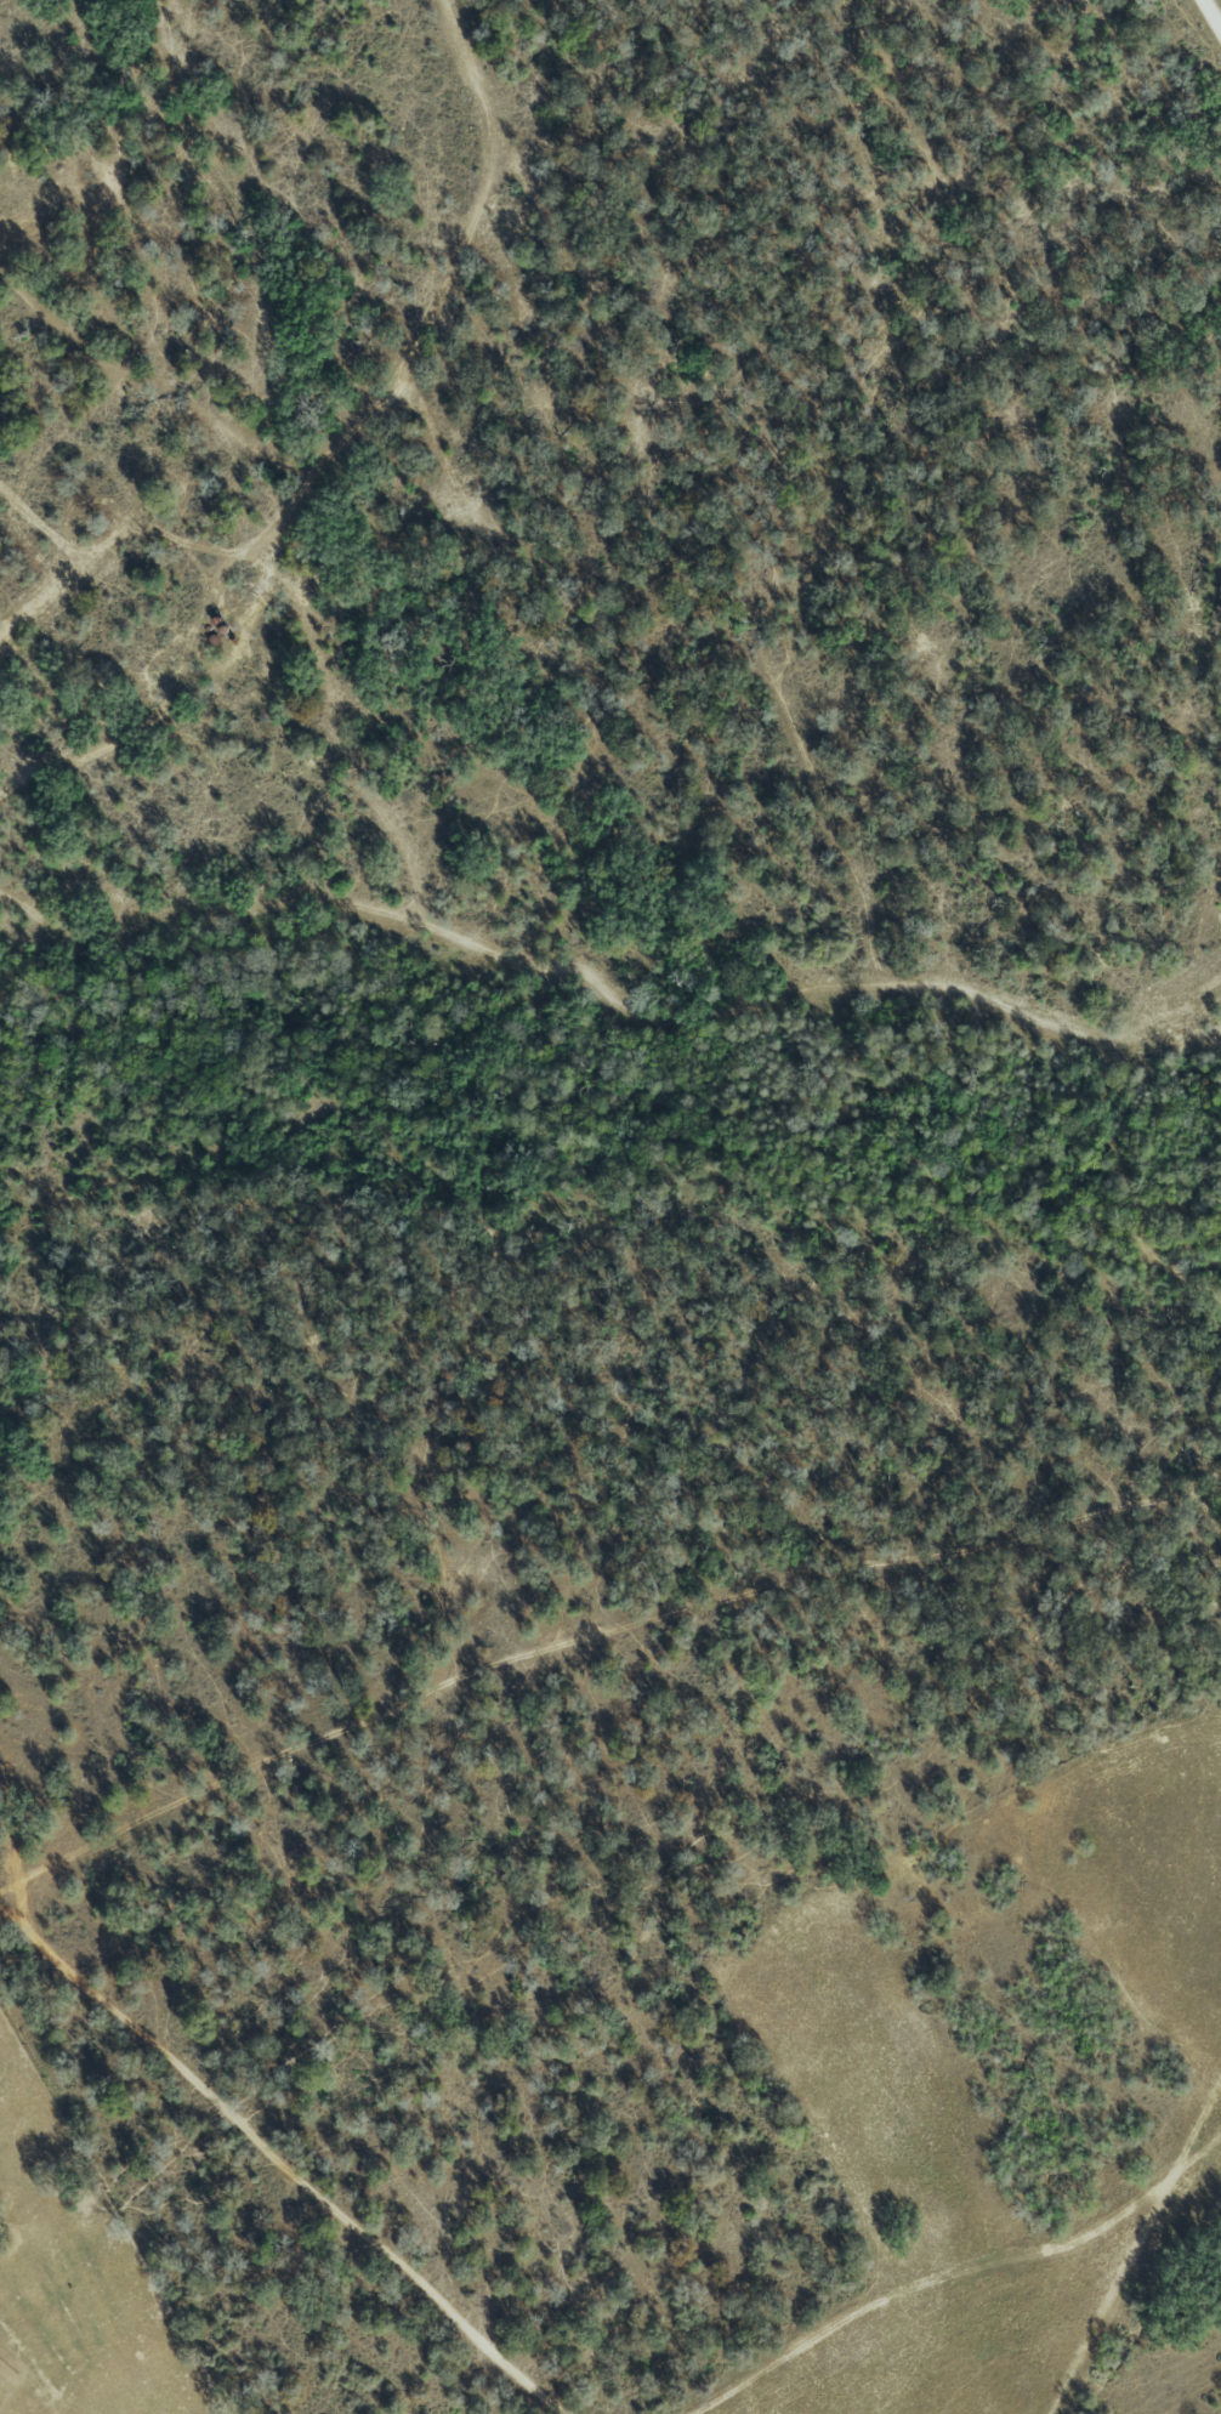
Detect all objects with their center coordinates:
road: (1219, 1)

